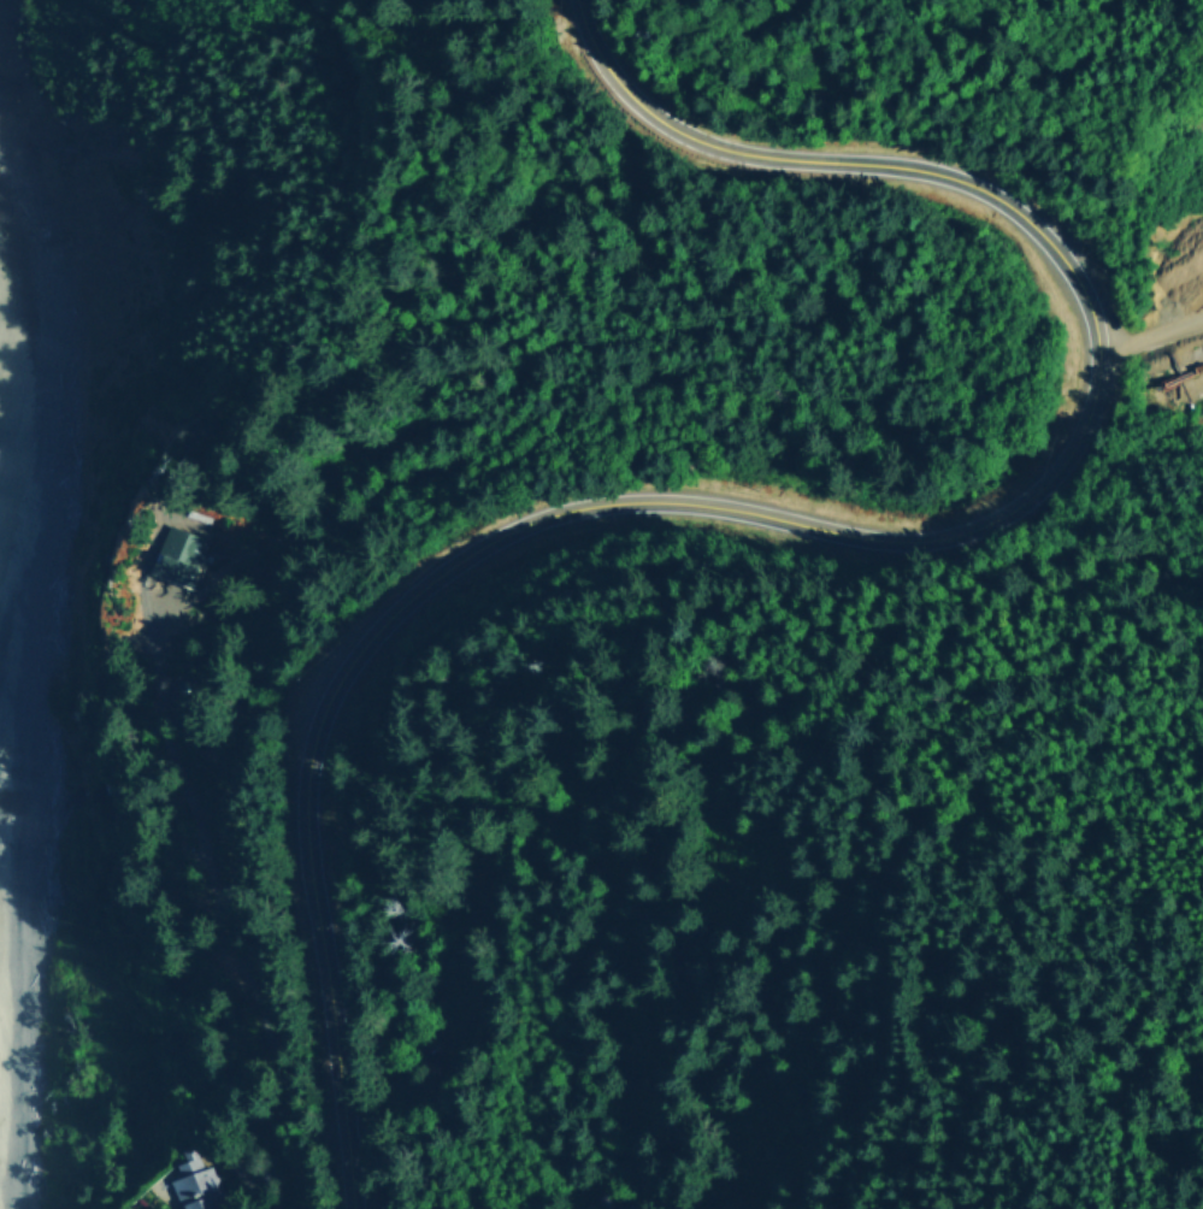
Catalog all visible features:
quarry: (1173, 278)
road: (1151, 334)
road: (825, 520)
building: (193, 550)

